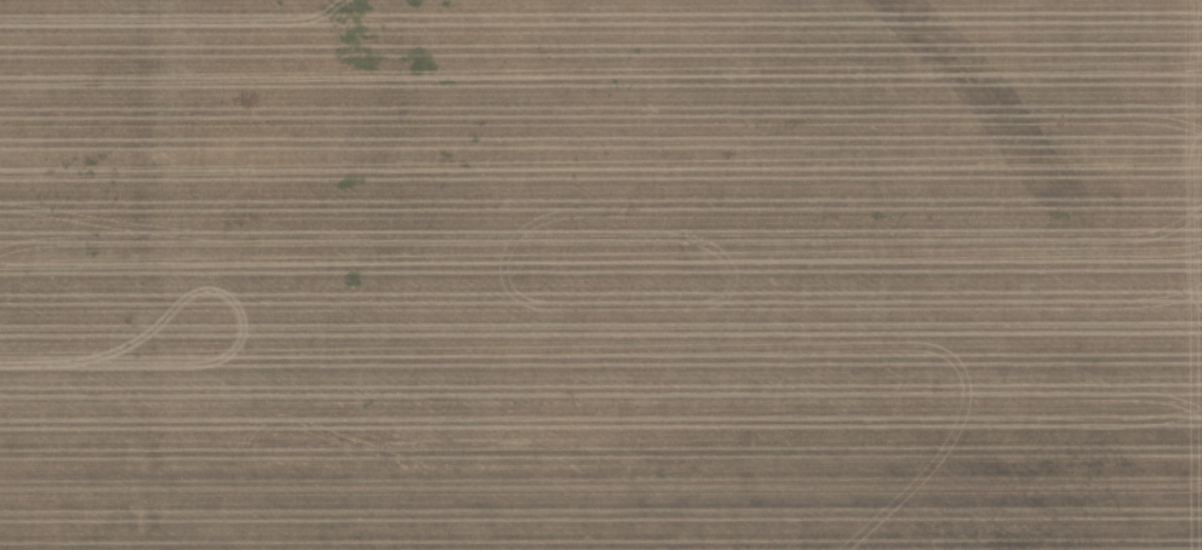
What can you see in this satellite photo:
road: (640, 544)

